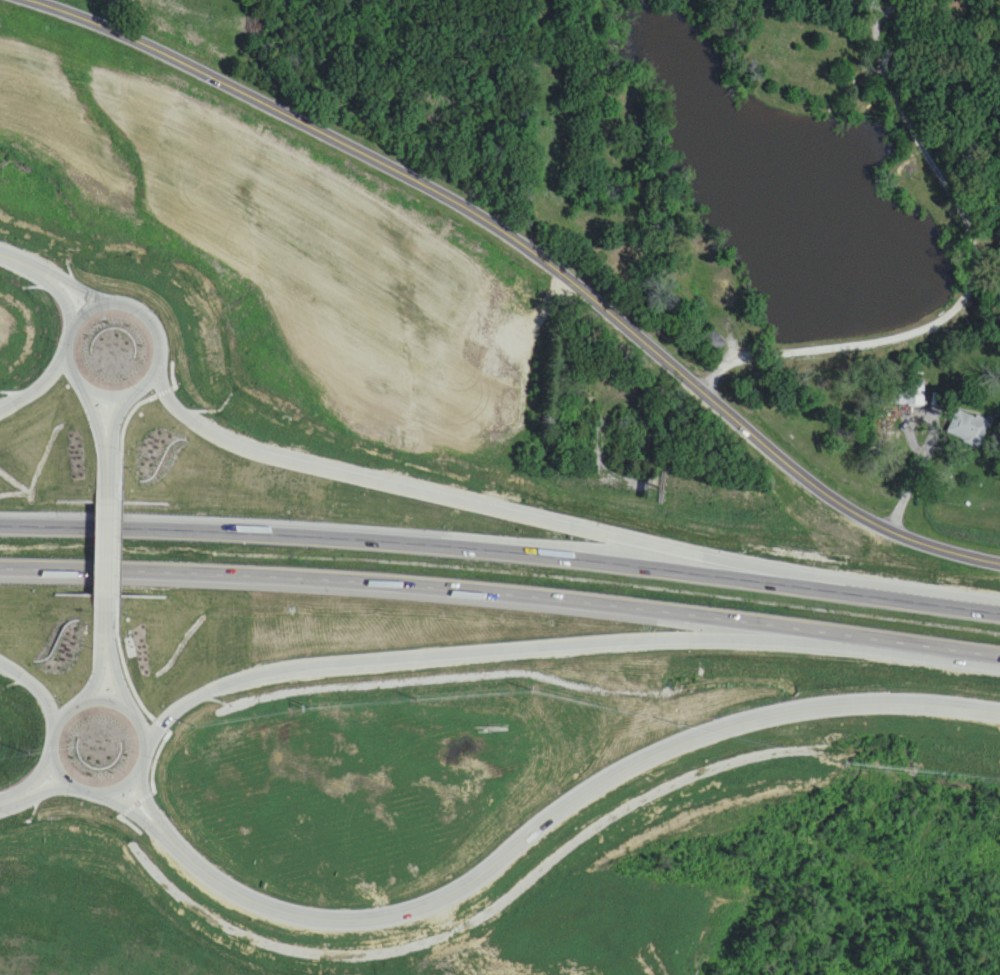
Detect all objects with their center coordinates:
road: (531, 252)
road: (51, 276)
road: (971, 278)
road: (133, 312)
building: (712, 343)
road: (36, 383)
building: (909, 395)
building: (969, 427)
road: (114, 448)
road: (486, 501)
road: (501, 547)
road: (111, 552)
road: (501, 595)
road: (109, 645)
road: (509, 650)
road: (33, 684)
road: (135, 700)
road: (27, 787)
road: (541, 820)

